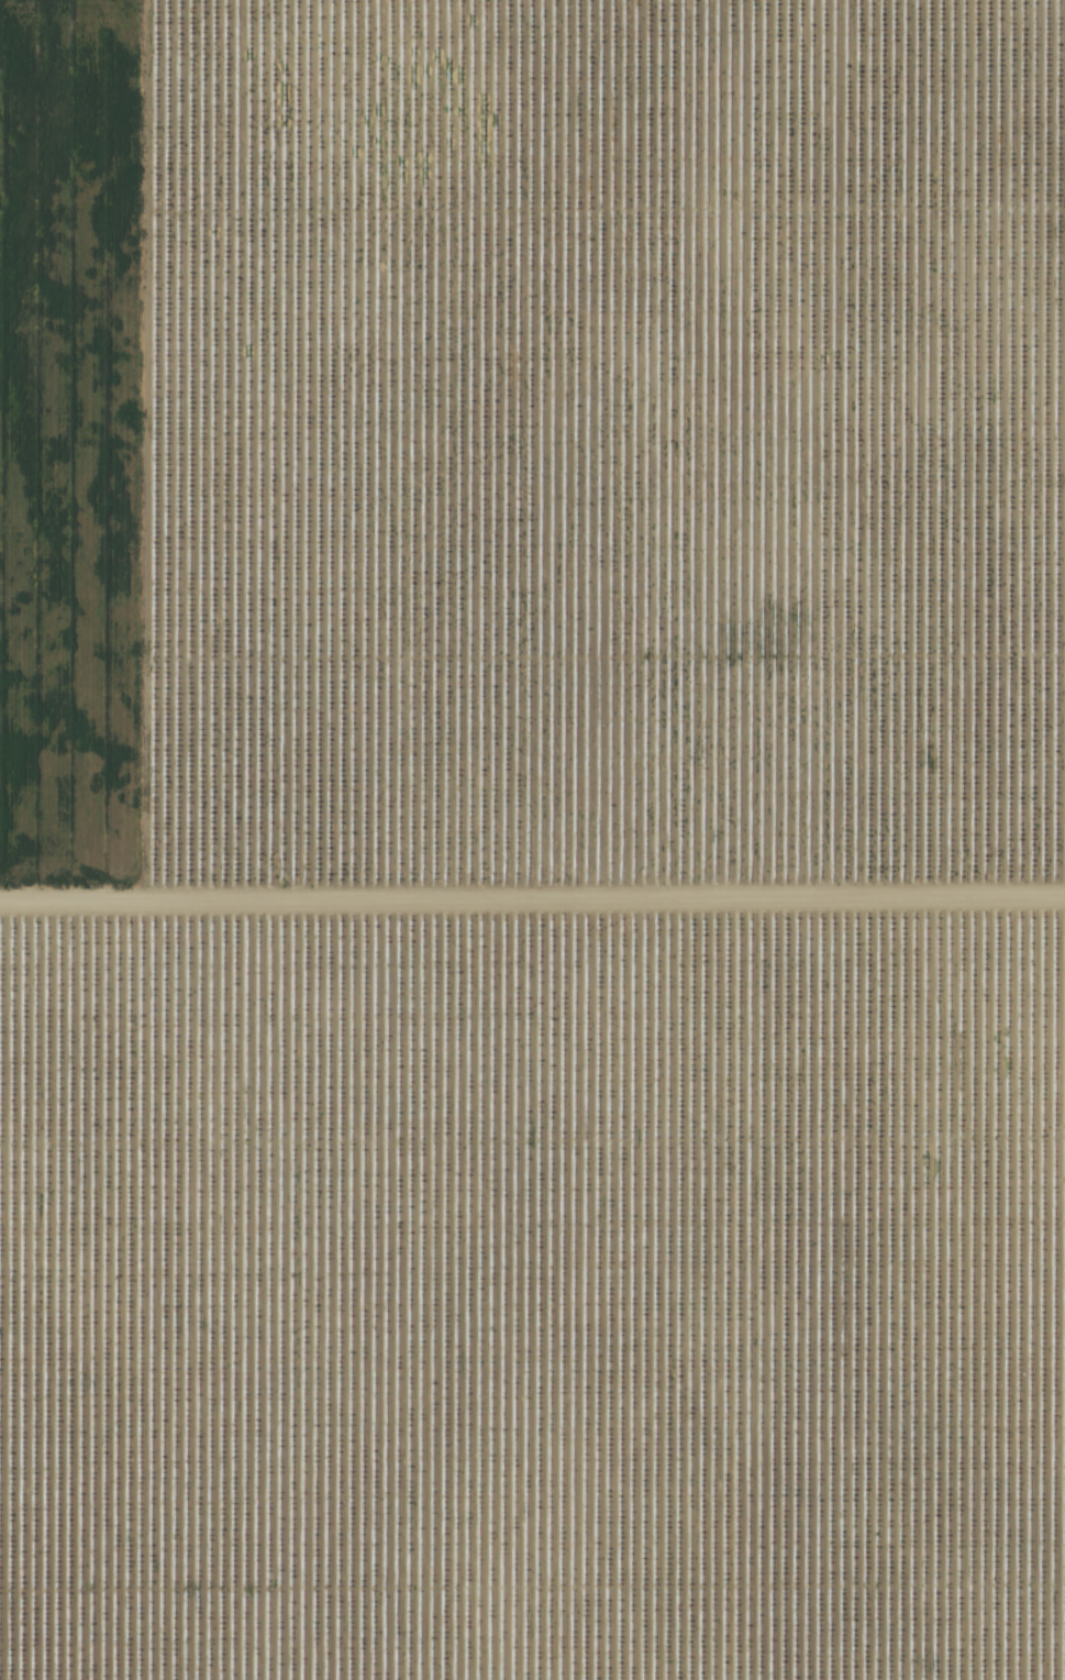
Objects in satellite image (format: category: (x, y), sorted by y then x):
road: (532, 887)

